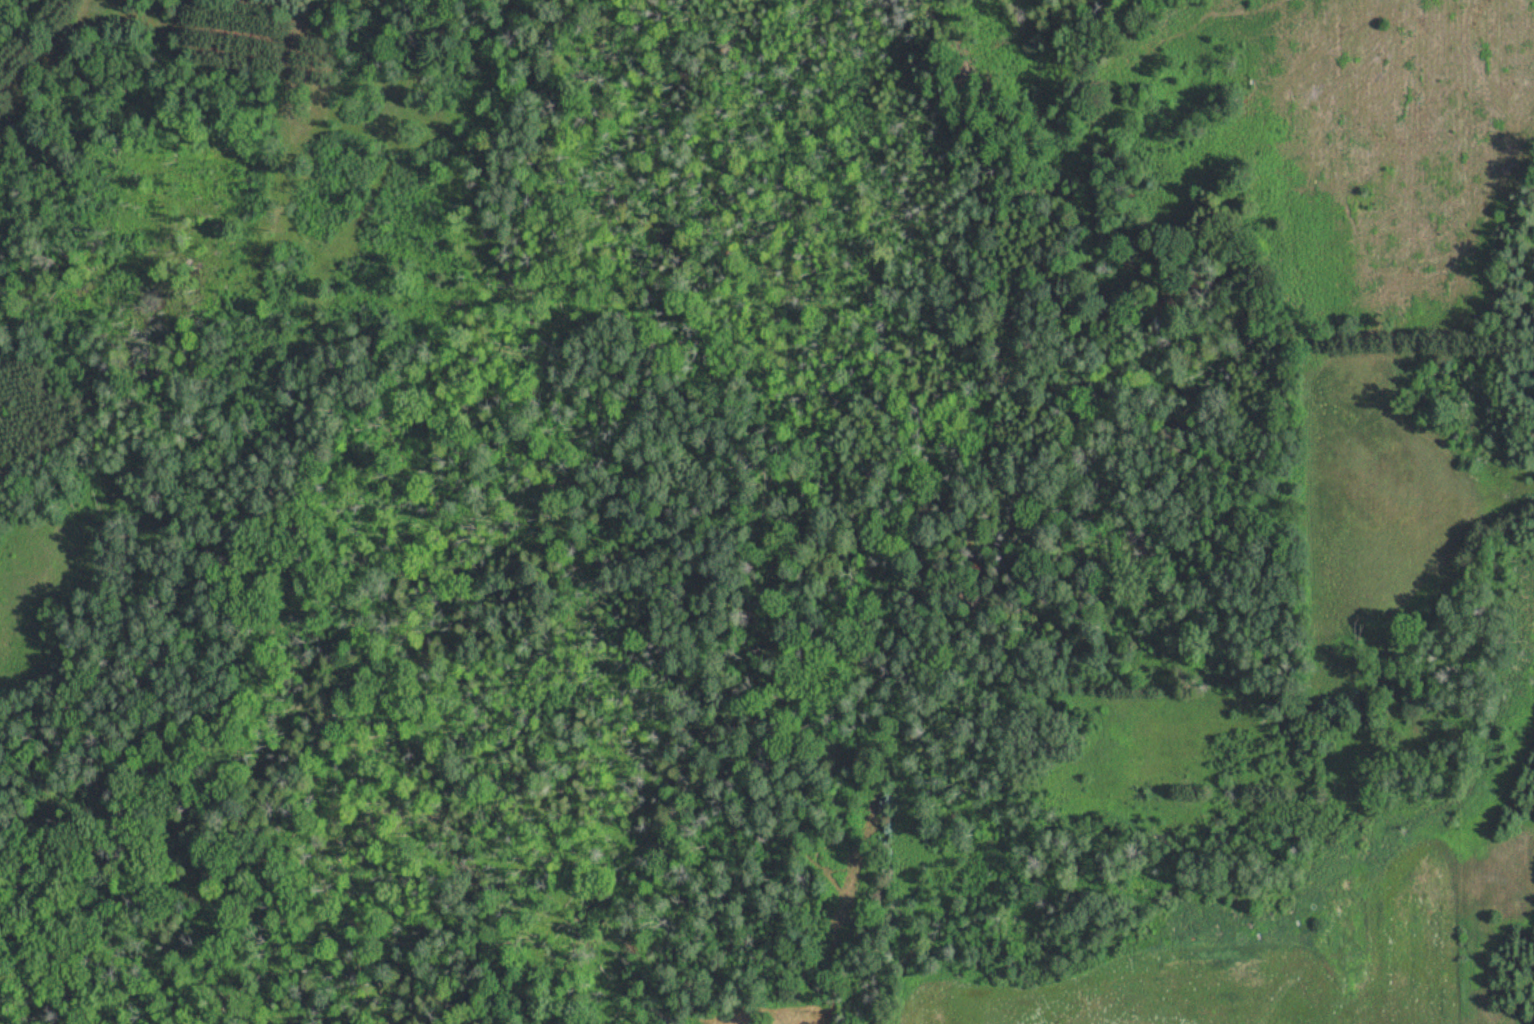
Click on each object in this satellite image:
road: (75, 188)

